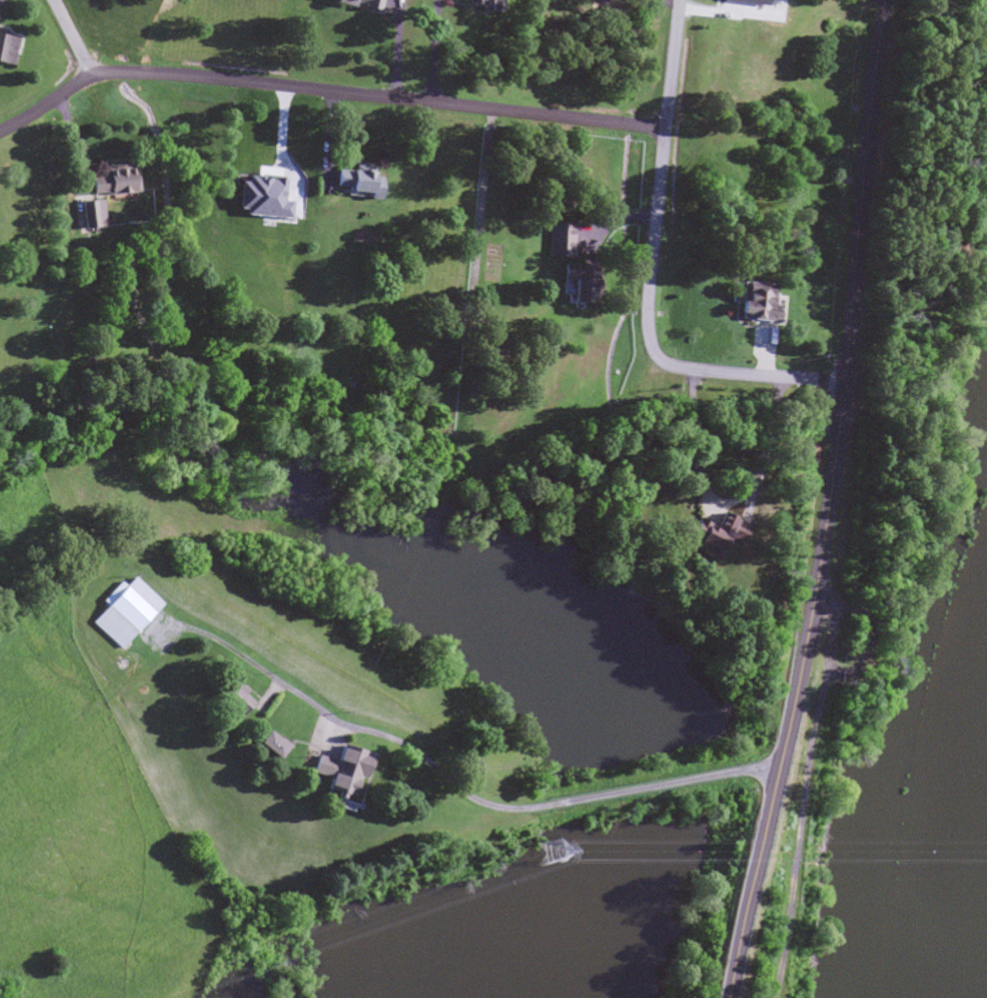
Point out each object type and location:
building: (357, 5)
building: (475, 5)
road: (74, 38)
building: (5, 51)
road: (326, 91)
building: (112, 181)
building: (352, 183)
building: (90, 215)
building: (558, 242)
road: (651, 272)
building: (577, 283)
building: (754, 303)
road: (827, 503)
building: (710, 536)
building: (123, 612)
building: (232, 700)
building: (269, 747)
building: (340, 774)
road: (462, 794)

